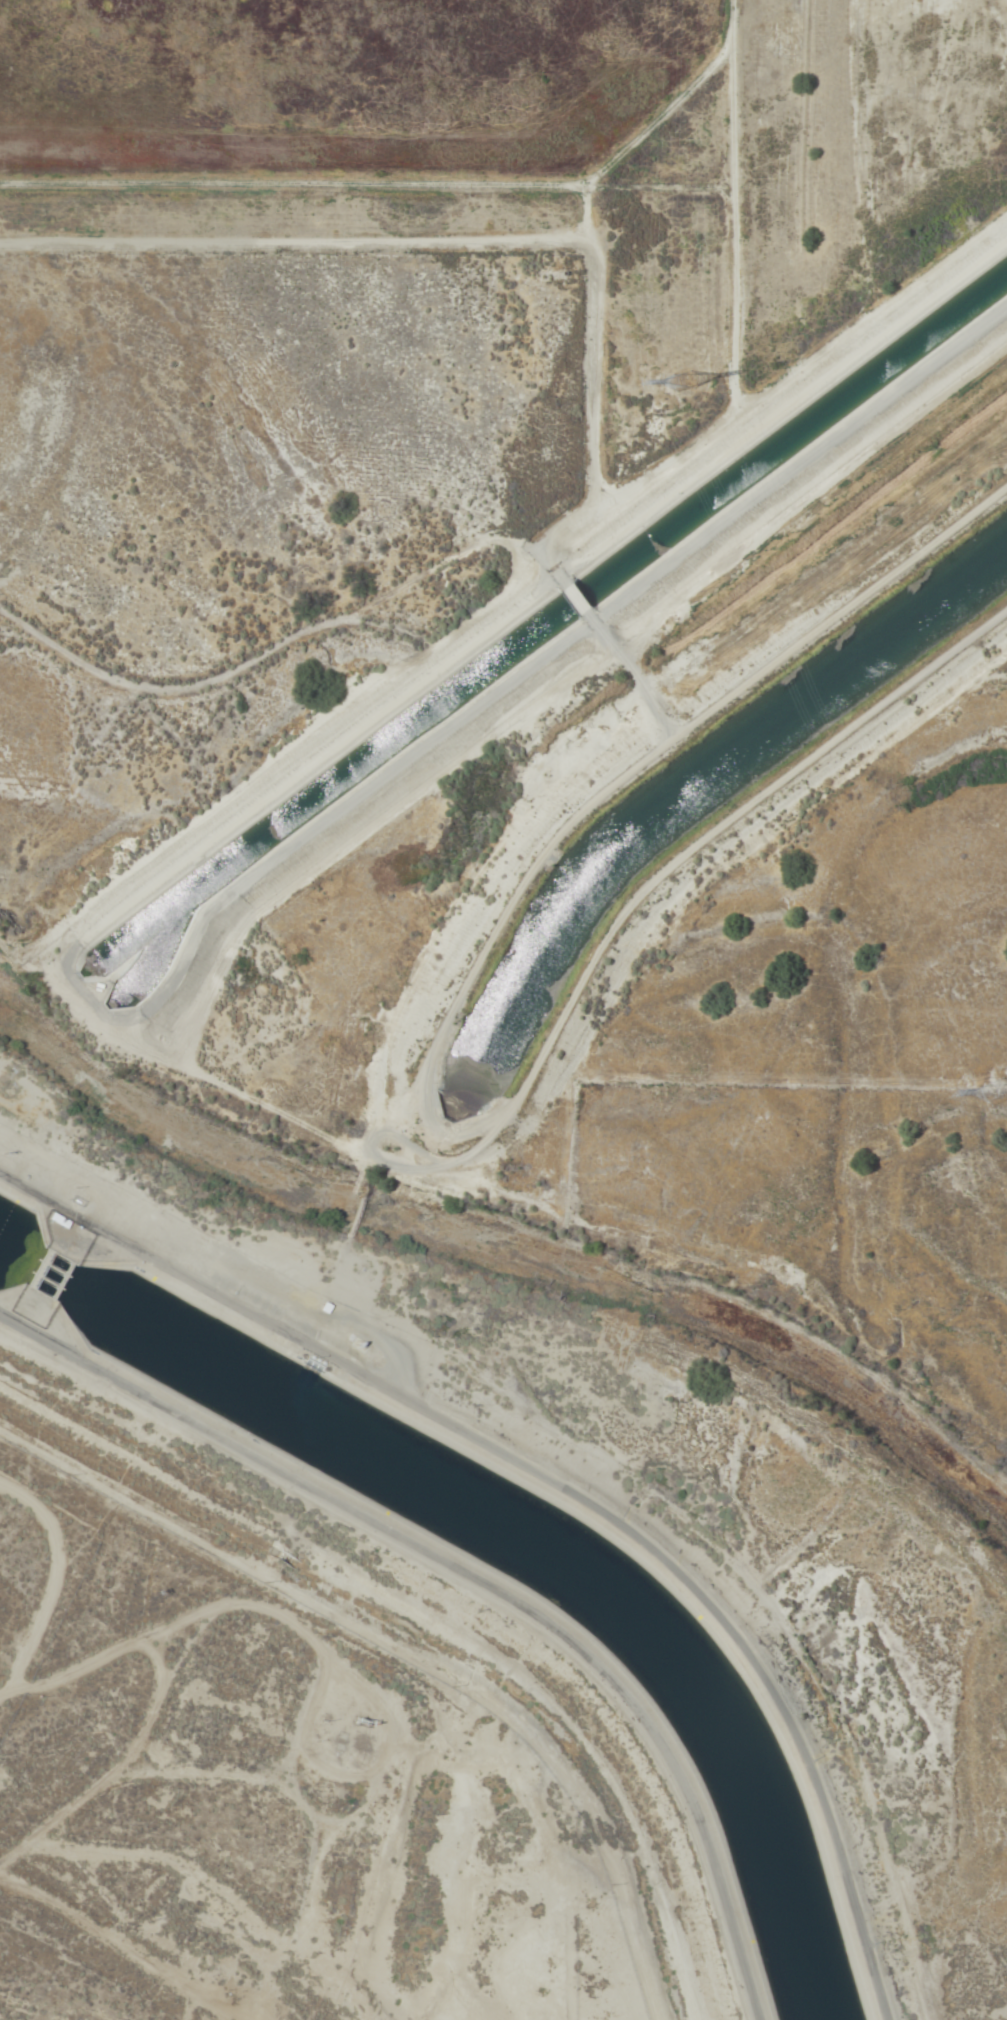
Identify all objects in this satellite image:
crop: (550, 166)
power tower: (671, 382)
road: (577, 600)
road: (288, 639)
power tower: (994, 1088)
road: (507, 1089)
road: (387, 1113)
road: (356, 1198)
road: (326, 1287)
road: (558, 1490)
road: (469, 1587)
road: (166, 1624)
road: (126, 1754)

